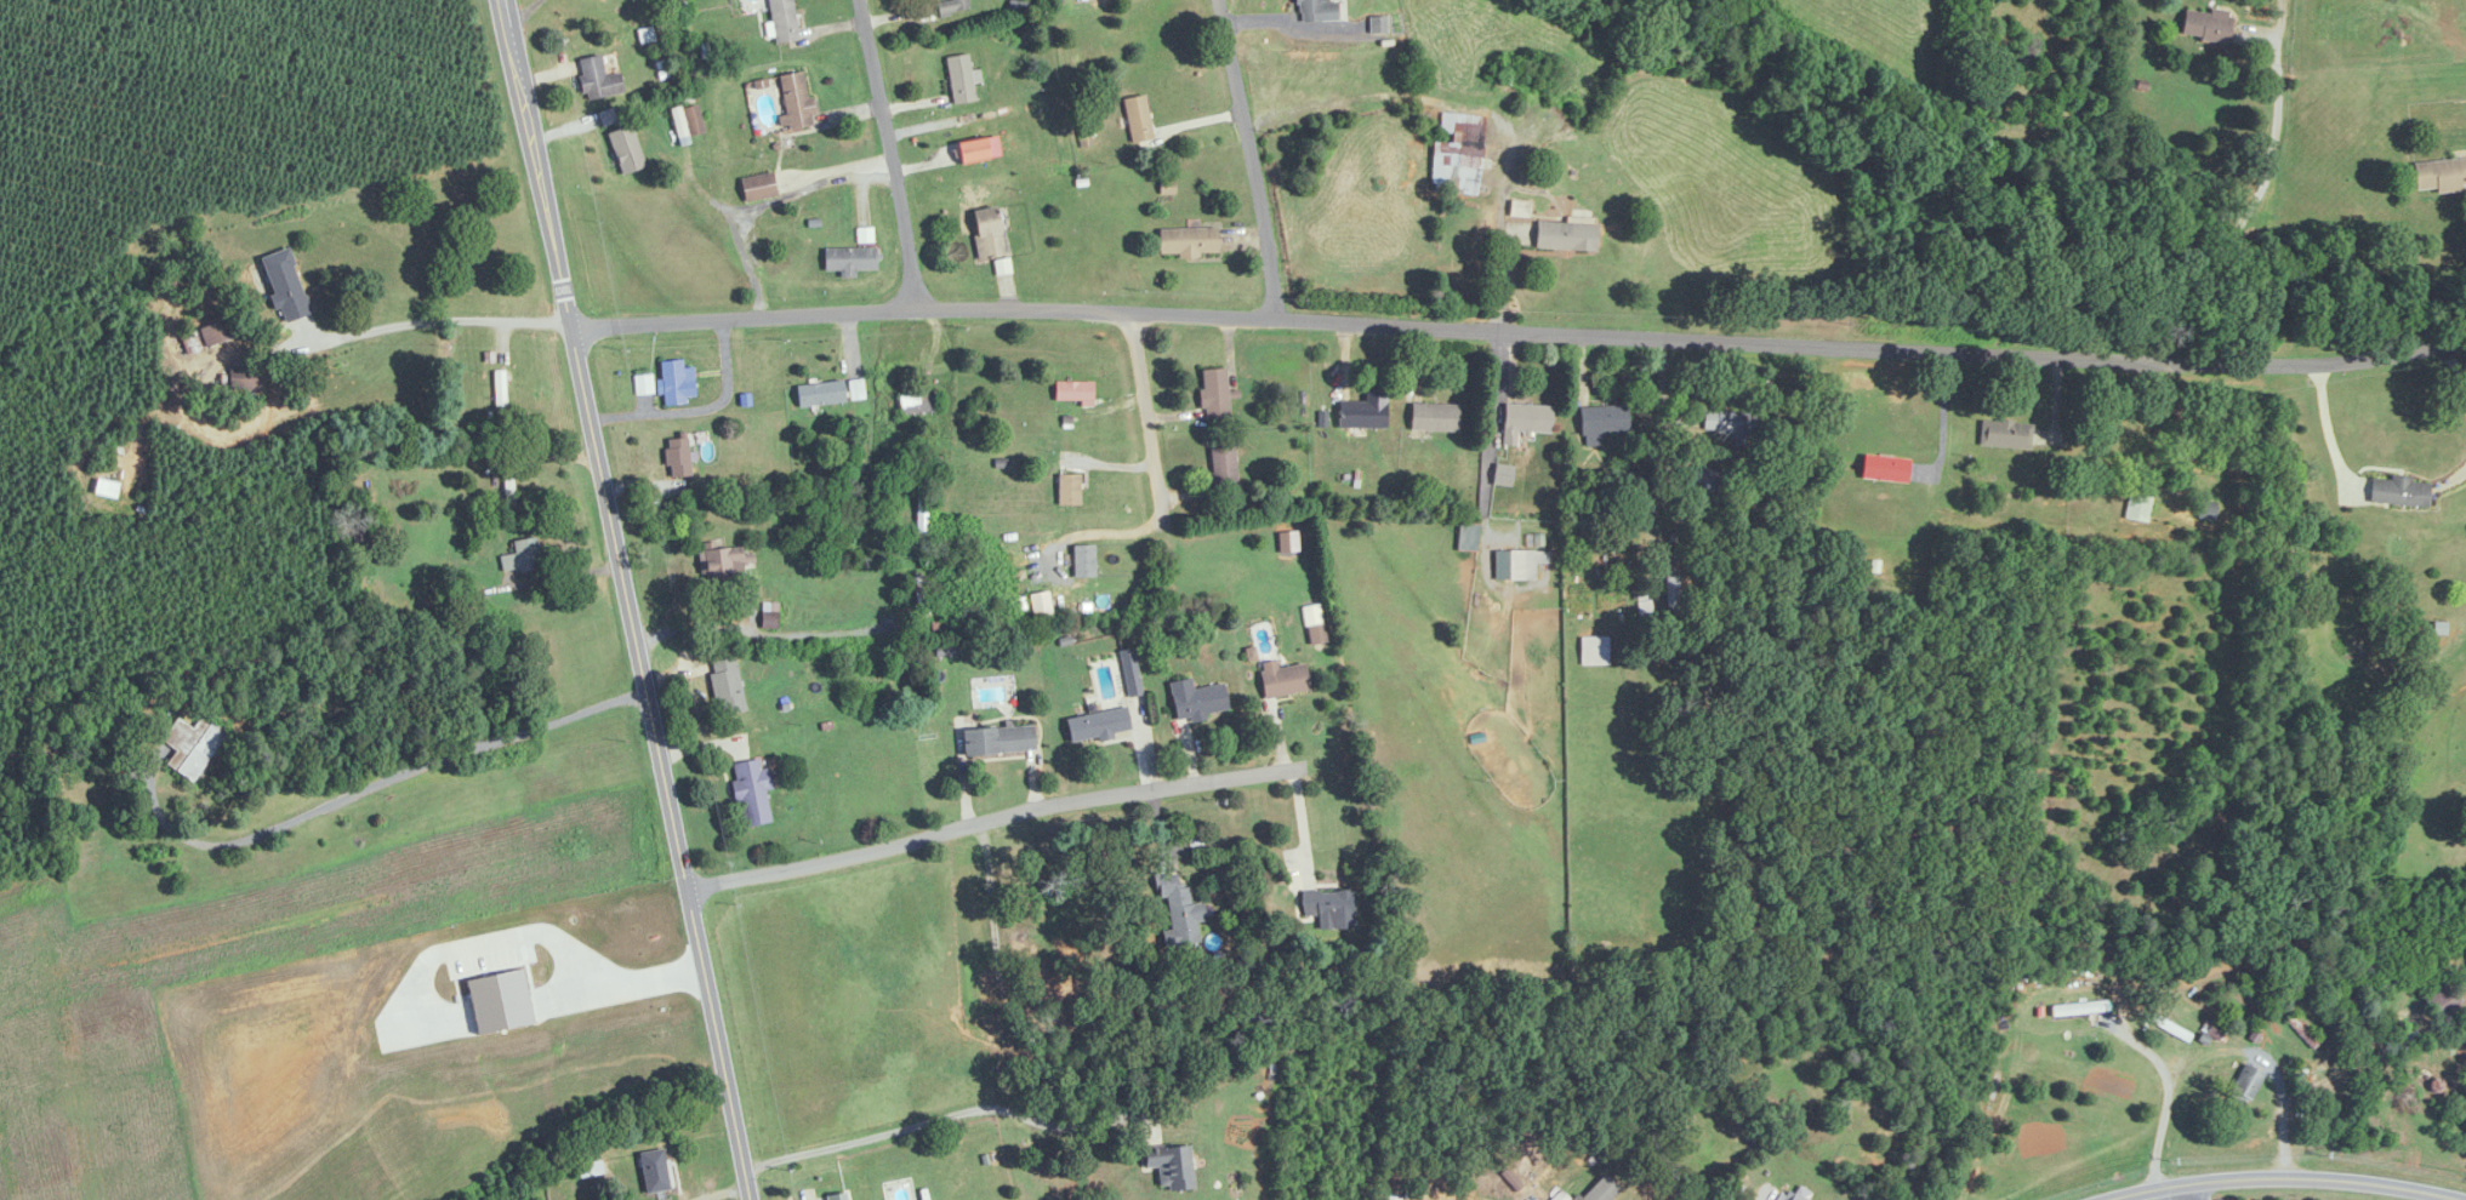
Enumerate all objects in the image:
building: (952, 6)
building: (1316, 10)
building: (784, 21)
building: (1377, 25)
building: (2205, 25)
building: (599, 79)
building: (961, 79)
building: (795, 101)
building: (1138, 119)
building: (687, 120)
building: (626, 150)
building: (972, 152)
road: (890, 154)
road: (1247, 159)
building: (1454, 159)
building: (2439, 175)
building: (758, 187)
road: (764, 201)
road: (2245, 210)
building: (987, 233)
building: (1565, 235)
building: (1188, 241)
building: (850, 261)
building: (285, 286)
road: (434, 314)
road: (1520, 331)
building: (217, 332)
road: (2455, 370)
building: (244, 379)
building: (676, 383)
building: (643, 385)
building: (500, 389)
building: (856, 389)
building: (1073, 392)
building: (820, 394)
building: (1214, 394)
building: (918, 404)
road: (696, 408)
building: (1363, 412)
building: (1434, 418)
building: (1526, 421)
road: (1942, 421)
building: (1732, 423)
building: (1602, 424)
road: (2325, 424)
building: (2005, 435)
building: (678, 458)
building: (1885, 469)
building: (1224, 474)
road: (1150, 478)
building: (1704, 481)
building: (1635, 485)
building: (106, 488)
building: (1069, 490)
building: (2398, 492)
building: (2138, 508)
building: (922, 514)
building: (522, 556)
building: (1083, 561)
building: (1517, 564)
building: (727, 565)
building: (1674, 595)
building: (922, 598)
road: (626, 600)
road: (761, 633)
building: (1316, 634)
building: (1594, 651)
building: (1283, 680)
building: (727, 687)
building: (1197, 701)
building: (1098, 726)
building: (1000, 741)
building: (194, 745)
road: (398, 764)
building: (752, 793)
road: (992, 821)
road: (1302, 828)
building: (1329, 908)
building: (1180, 912)
building: (2442, 999)
building: (1255, 1021)
building: (2404, 1042)
road: (2146, 1050)
road: (2216, 1050)
building: (2245, 1085)
road: (939, 1118)
building: (1172, 1166)
building: (591, 1170)
building: (655, 1171)
road: (2282, 1176)
building: (1601, 1190)
road: (2166, 1193)
building: (1798, 1194)
building: (838, 1196)

